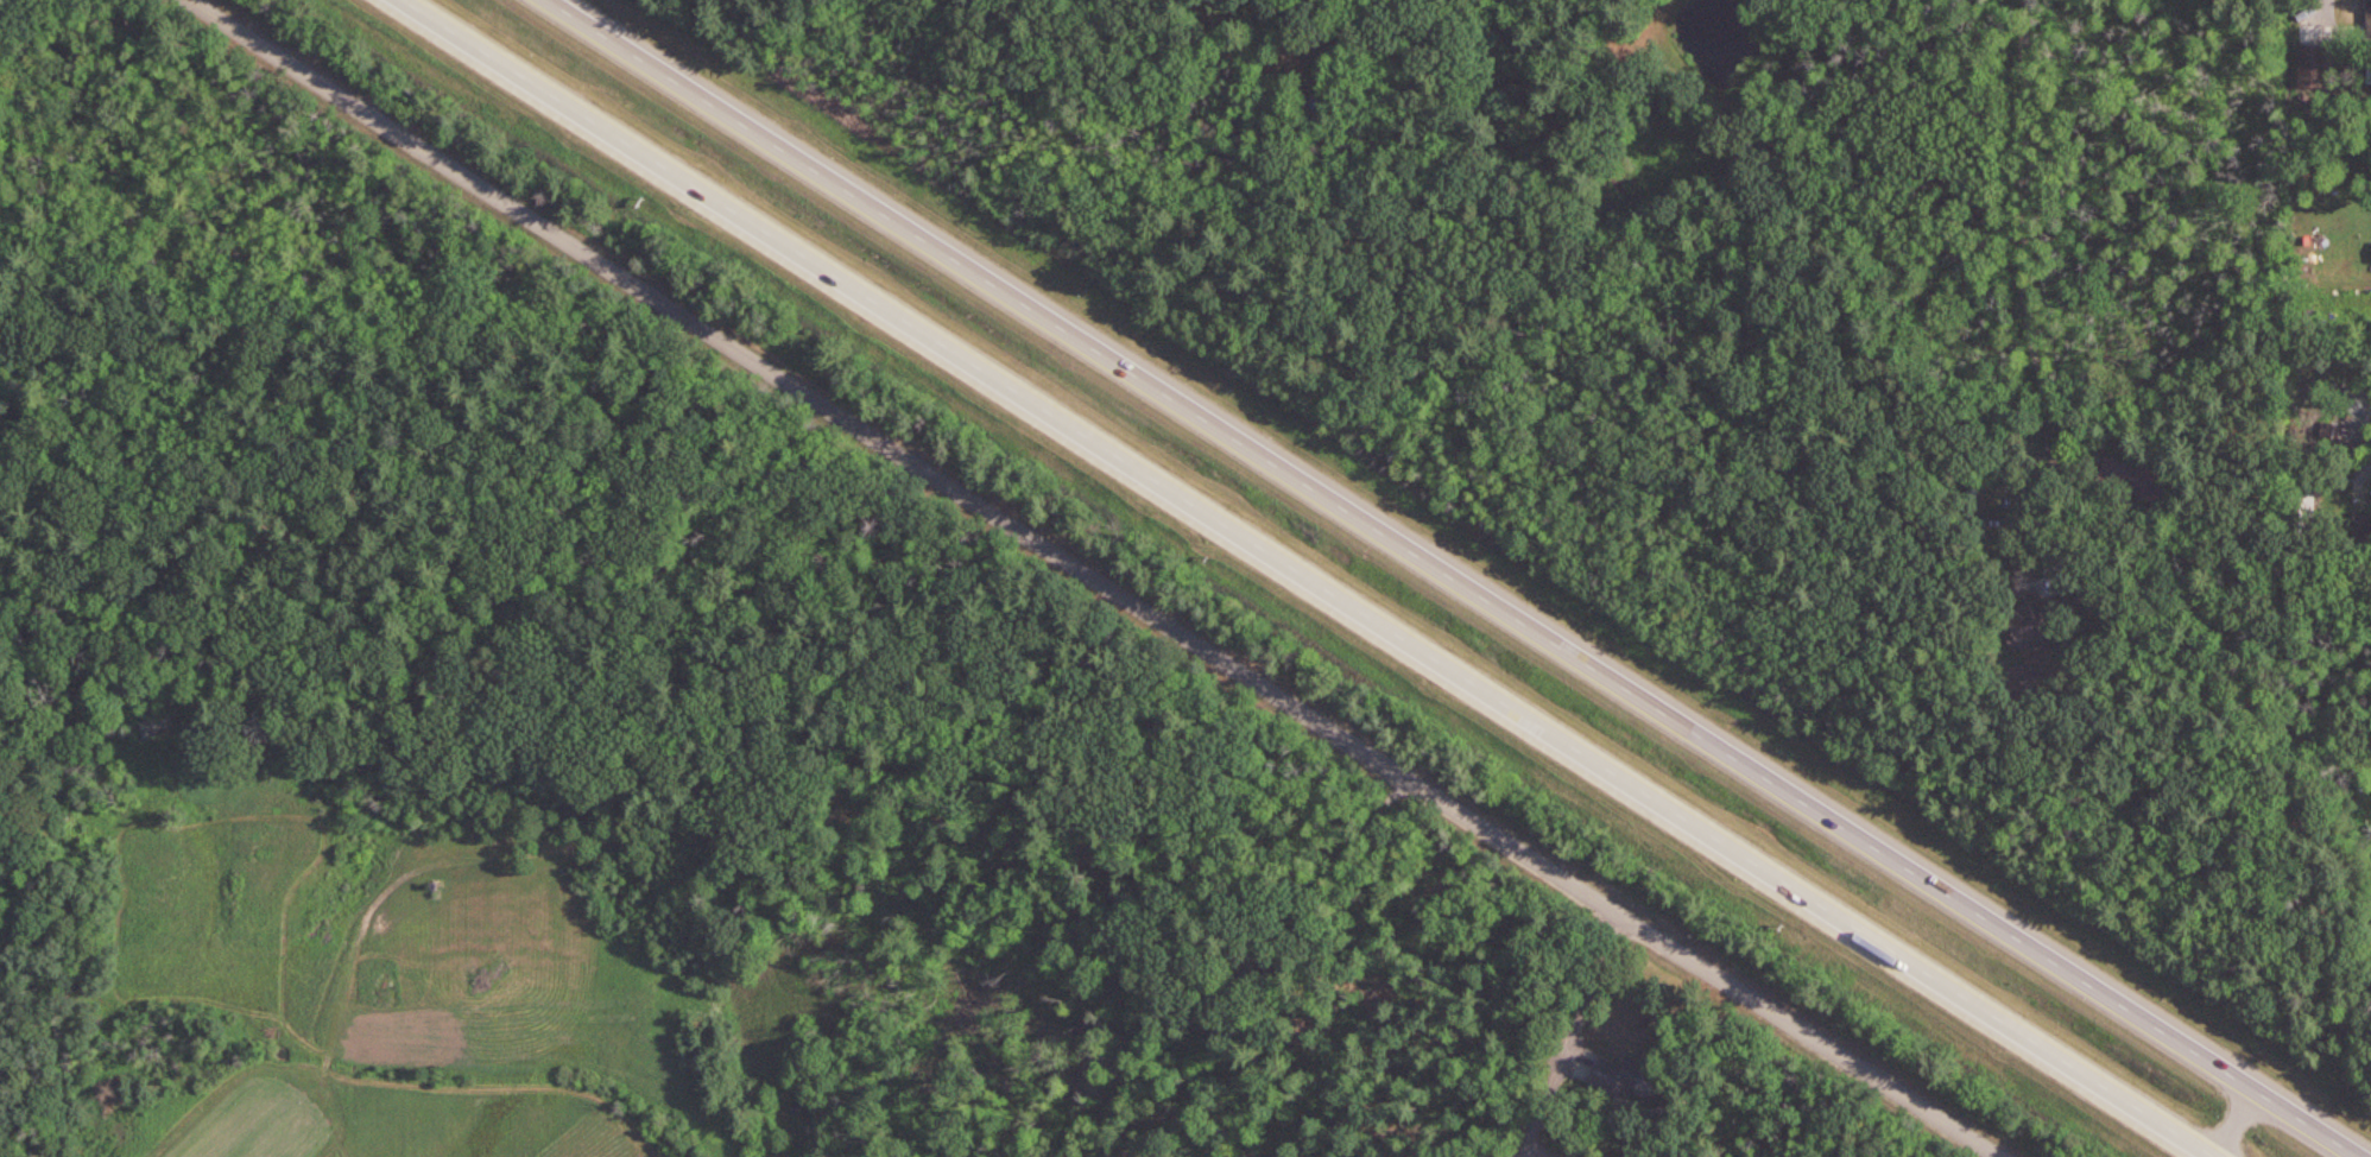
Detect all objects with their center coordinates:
building: (2369, 18)
building: (2313, 63)
road: (2024, 289)
building: (2135, 480)
building: (2363, 521)
road: (1098, 573)
road: (1307, 578)
road: (1453, 578)
building: (2047, 618)
building: (157, 721)
road: (1588, 980)
building: (1629, 1077)
road: (2231, 1123)

